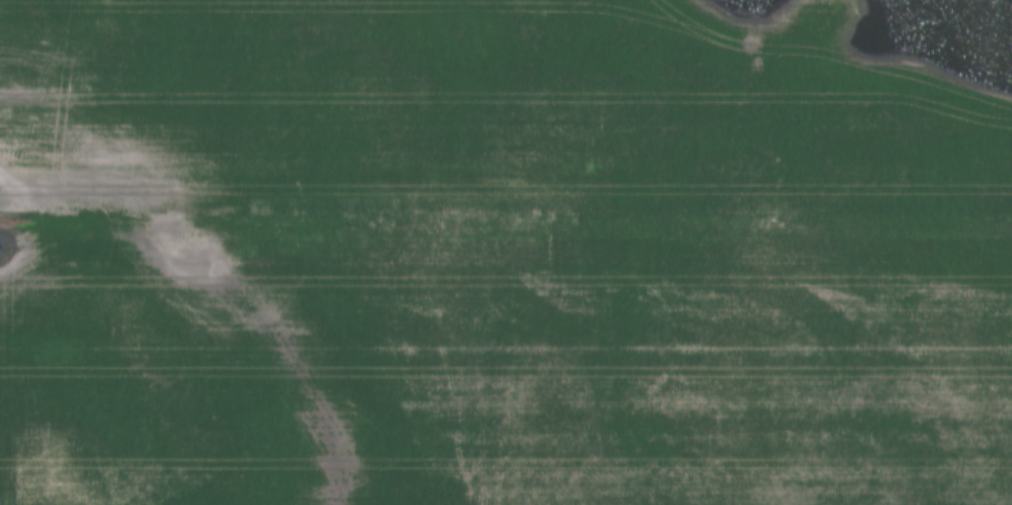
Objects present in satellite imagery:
crop: (505, 102)

